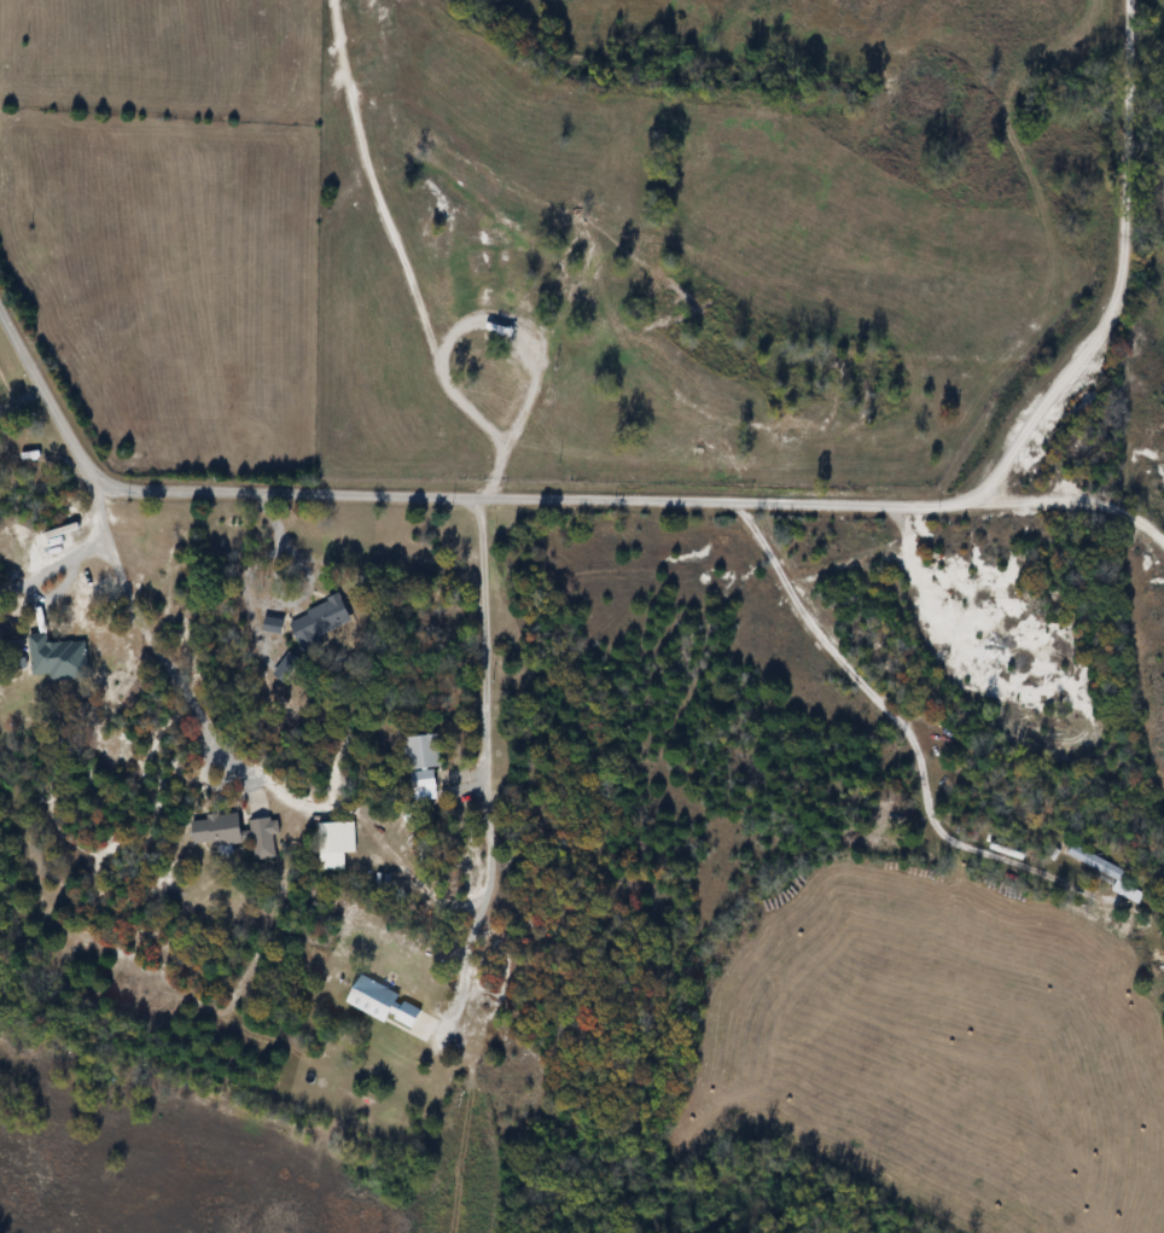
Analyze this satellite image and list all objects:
building: (551, 274)
road: (522, 417)
road: (710, 500)
road: (296, 598)
building: (58, 659)
road: (488, 698)
road: (896, 716)
road: (227, 752)
building: (424, 762)
building: (237, 834)
building: (337, 844)
building: (1098, 863)
building: (354, 908)
road: (464, 966)
building: (384, 1004)

